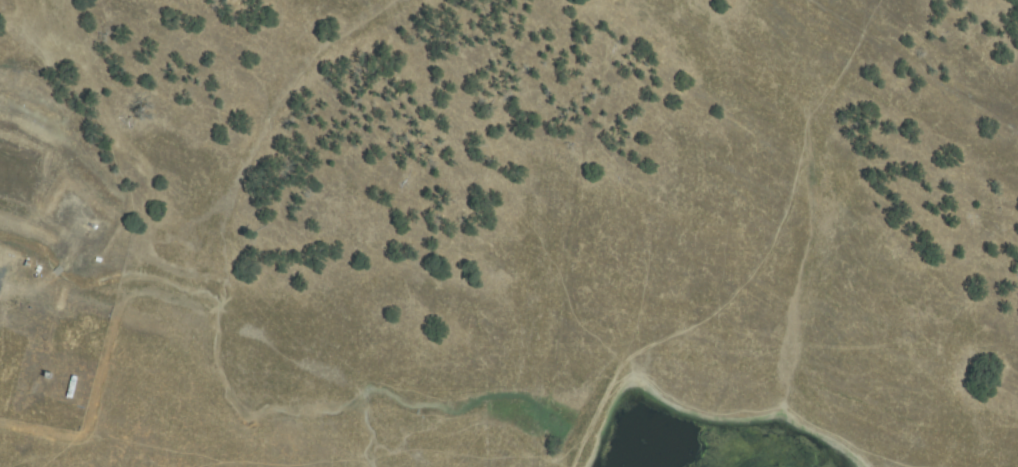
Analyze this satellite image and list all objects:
building: (71, 389)

